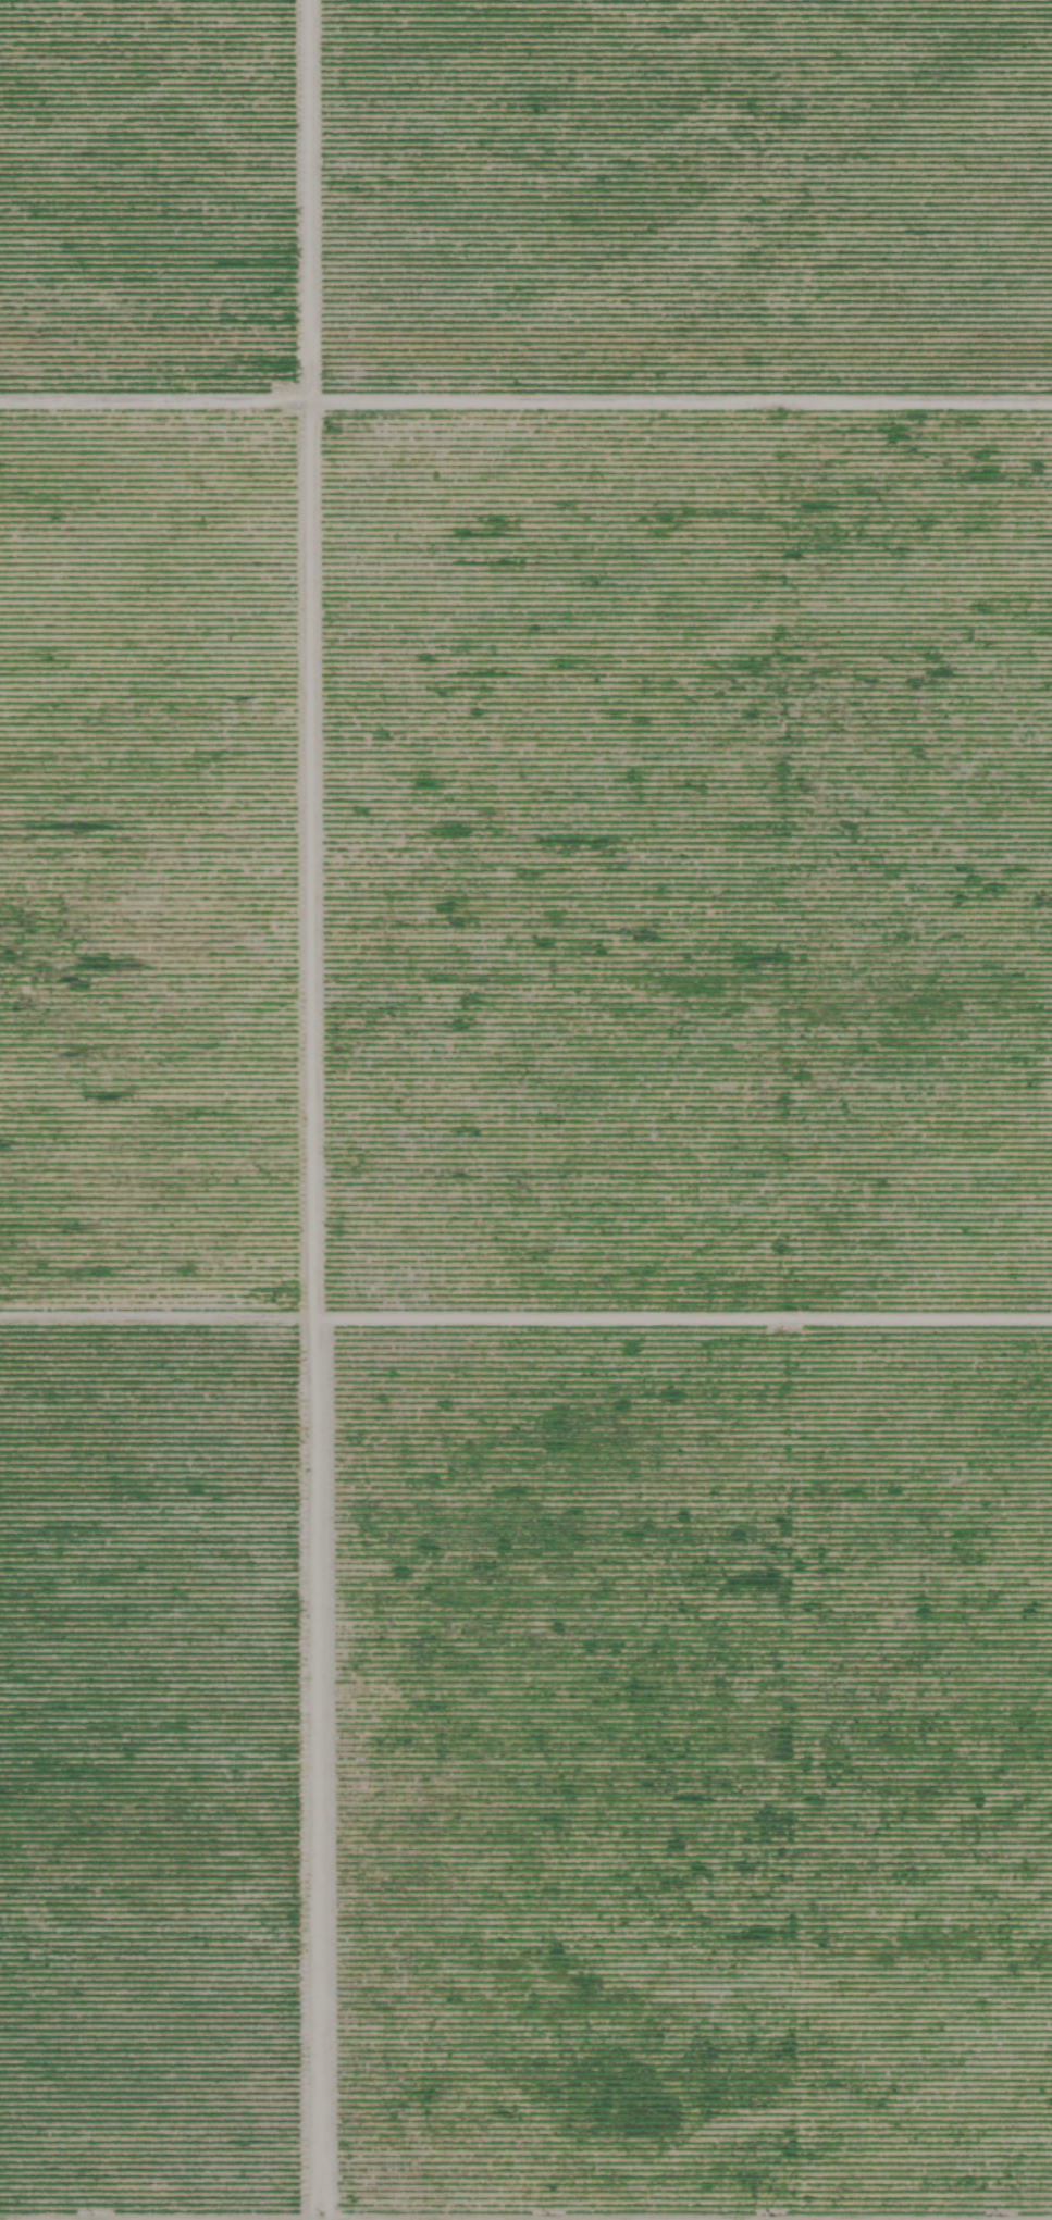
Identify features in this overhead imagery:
road: (525, 401)

